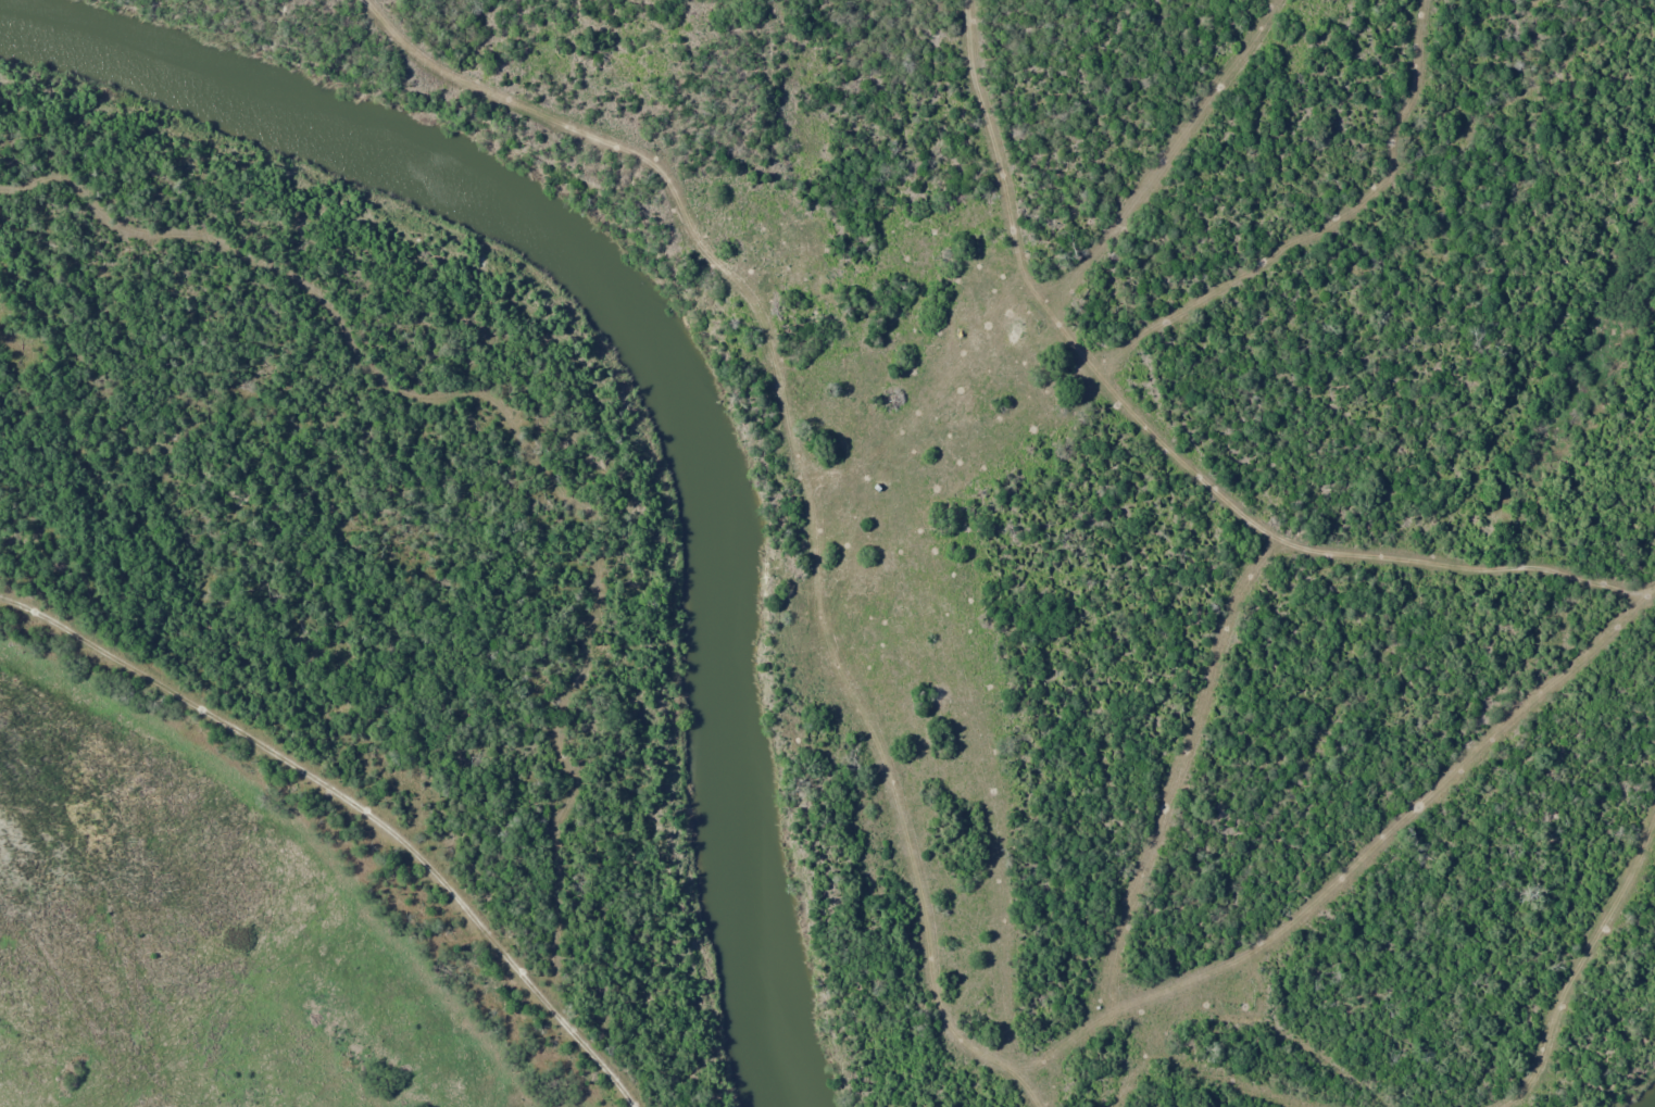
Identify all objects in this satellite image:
river: (660, 364)
road: (325, 816)

